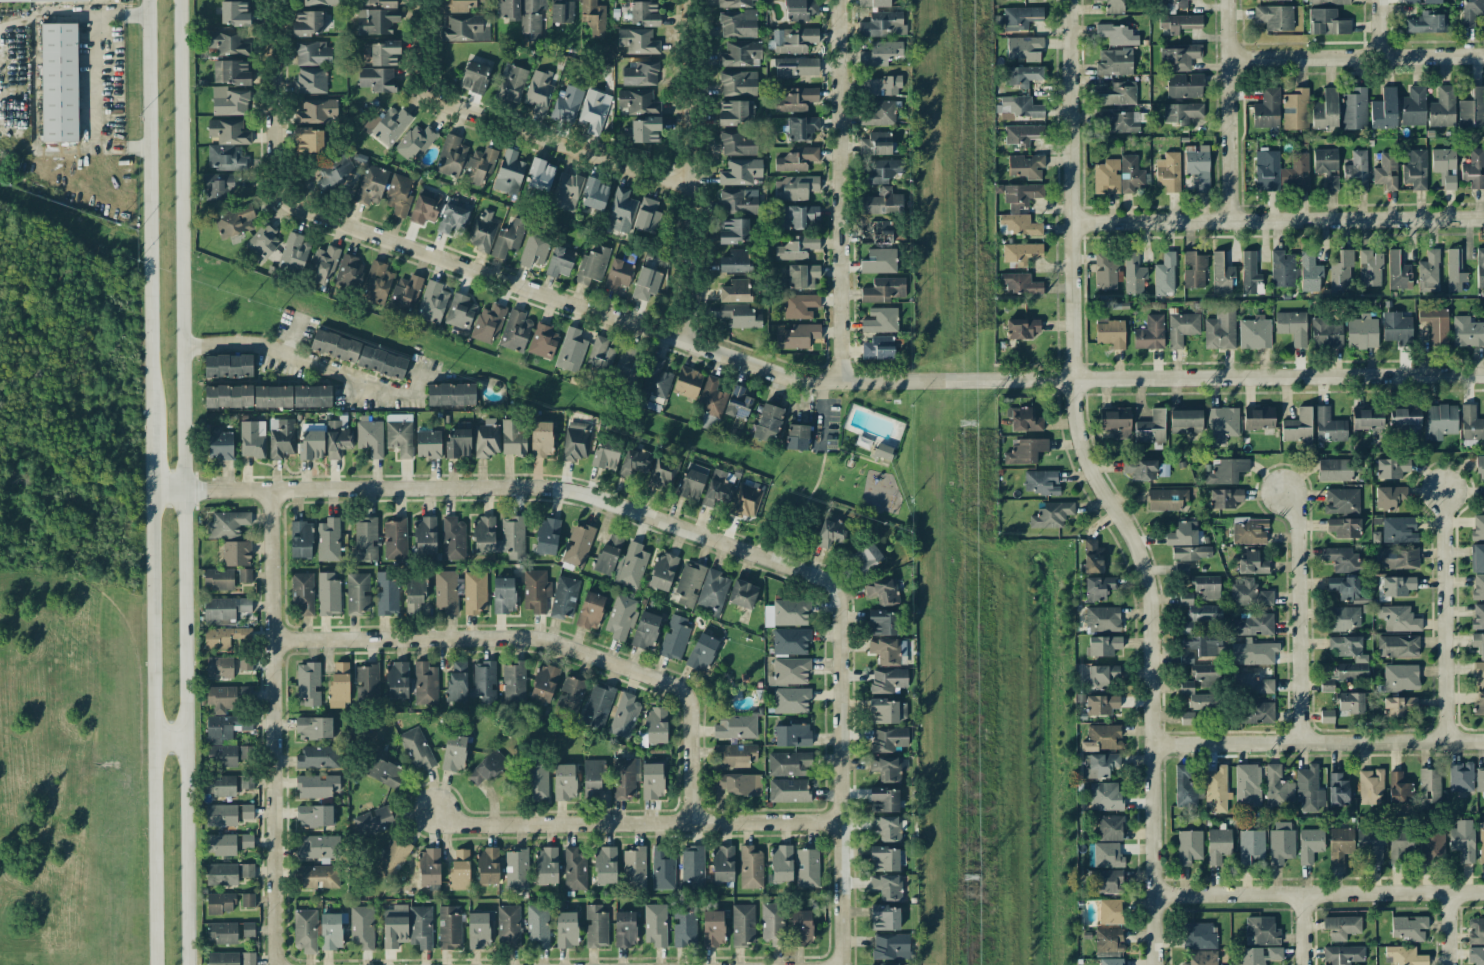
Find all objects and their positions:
building: (37, 0)
building: (1263, 0)
building: (1423, 1)
building: (320, 2)
building: (1328, 2)
building: (381, 3)
building: (733, 3)
building: (873, 3)
building: (1173, 4)
building: (457, 5)
building: (1113, 6)
building: (508, 9)
building: (800, 10)
building: (561, 11)
building: (1471, 11)
building: (234, 13)
building: (644, 13)
building: (531, 17)
building: (594, 17)
building: (1020, 17)
building: (1274, 17)
building: (376, 21)
building: (1180, 22)
building: (1327, 22)
building: (307, 23)
building: (737, 23)
building: (1426, 23)
building: (882, 25)
building: (465, 28)
road: (1380, 28)
building: (1117, 34)
building: (793, 39)
building: (636, 41)
building: (227, 42)
road: (422, 46)
building: (1025, 48)
building: (384, 52)
building: (880, 53)
building: (312, 54)
building: (740, 54)
road: (1356, 56)
building: (1178, 57)
building: (1114, 62)
building: (796, 67)
building: (231, 72)
building: (639, 73)
building: (1021, 75)
building: (474, 77)
building: (376, 79)
road: (101, 80)
building: (310, 80)
building: (59, 82)
building: (511, 83)
building: (738, 83)
building: (1184, 85)
building: (879, 86)
building: (538, 93)
building: (1118, 94)
building: (795, 99)
building: (229, 101)
building: (568, 102)
building: (637, 102)
road: (273, 103)
building: (1413, 106)
building: (1018, 107)
building: (1442, 107)
building: (1267, 108)
building: (1294, 109)
building: (1354, 109)
building: (1384, 109)
building: (1472, 109)
road: (1230, 110)
building: (1325, 110)
building: (316, 111)
building: (594, 111)
building: (735, 112)
building: (1181, 112)
building: (876, 113)
building: (1123, 122)
building: (389, 125)
building: (801, 127)
building: (643, 130)
building: (1022, 134)
building: (309, 140)
road: (556, 140)
building: (415, 141)
building: (738, 143)
building: (227, 144)
building: (875, 144)
building: (450, 156)
building: (796, 159)
building: (478, 165)
building: (1198, 165)
building: (1026, 166)
building: (1326, 166)
building: (1444, 167)
building: (1415, 169)
building: (1474, 169)
building: (1356, 170)
building: (334, 171)
road: (687, 171)
building: (740, 171)
building: (882, 171)
building: (1281, 171)
building: (1386, 171)
building: (509, 172)
building: (1168, 172)
building: (1130, 174)
building: (540, 175)
building: (1106, 177)
building: (370, 185)
building: (217, 186)
building: (794, 187)
road: (839, 189)
road: (1074, 189)
building: (566, 191)
building: (595, 194)
building: (398, 195)
building: (738, 201)
building: (881, 202)
building: (425, 206)
building: (1013, 210)
building: (620, 211)
road: (148, 212)
building: (647, 215)
building: (797, 216)
building: (452, 217)
road: (1279, 219)
building: (234, 220)
building: (733, 231)
road: (164, 233)
building: (481, 233)
building: (876, 233)
building: (507, 239)
building: (262, 241)
building: (796, 248)
building: (533, 250)
building: (294, 252)
building: (1020, 253)
building: (735, 261)
building: (879, 261)
building: (559, 262)
building: (321, 265)
building: (593, 266)
building: (1370, 267)
building: (1480, 267)
building: (1282, 268)
building: (1193, 270)
building: (1454, 270)
building: (349, 271)
building: (1106, 271)
building: (1341, 271)
building: (1398, 271)
building: (1310, 272)
building: (1428, 272)
building: (1221, 273)
building: (1250, 273)
building: (1133, 274)
building: (1164, 274)
building: (802, 275)
building: (376, 282)
building: (645, 283)
building: (1020, 283)
building: (883, 290)
building: (736, 291)
building: (405, 293)
building: (432, 302)
building: (799, 306)
building: (460, 311)
building: (739, 315)
building: (880, 320)
building: (488, 323)
building: (1435, 324)
building: (1292, 326)
building: (1396, 327)
building: (1022, 328)
building: (1181, 328)
building: (1220, 329)
building: (515, 330)
building: (1110, 332)
building: (1362, 332)
building: (1467, 332)
building: (1150, 333)
building: (1254, 333)
building: (1327, 333)
building: (798, 336)
road: (672, 337)
building: (542, 341)
building: (335, 345)
building: (878, 348)
building: (570, 350)
building: (600, 352)
road: (295, 359)
building: (381, 362)
building: (228, 365)
building: (627, 369)
road: (1279, 377)
building: (656, 378)
building: (687, 382)
road: (411, 383)
building: (450, 394)
building: (228, 396)
building: (272, 396)
building: (311, 396)
building: (711, 397)
building: (738, 403)
road: (821, 414)
building: (1258, 418)
building: (1405, 418)
building: (1368, 419)
building: (1025, 420)
building: (1185, 420)
building: (1441, 421)
building: (1115, 422)
building: (767, 423)
power tower: (965, 423)
building: (1222, 423)
building: (1471, 423)
parking lot: (826, 424)
building: (1329, 426)
building: (1151, 428)
building: (1298, 428)
building: (399, 433)
building: (370, 436)
building: (796, 437)
building: (252, 438)
building: (281, 438)
building: (486, 438)
building: (512, 438)
building: (336, 439)
building: (541, 439)
building: (311, 441)
building: (575, 441)
building: (219, 443)
building: (428, 443)
building: (458, 443)
building: (1025, 450)
building: (882, 451)
building: (605, 454)
road: (853, 455)
road: (150, 457)
building: (638, 460)
building: (1391, 467)
building: (1480, 467)
building: (1140, 469)
building: (1223, 470)
building: (1335, 470)
building: (661, 474)
building: (691, 481)
road: (181, 482)
building: (1041, 482)
road: (501, 486)
building: (1389, 497)
building: (1225, 498)
building: (1166, 499)
building: (1341, 500)
building: (746, 501)
road: (799, 509)
building: (1050, 514)
building: (227, 524)
building: (1344, 527)
building: (1477, 527)
building: (512, 528)
building: (1399, 529)
building: (1249, 530)
building: (829, 531)
building: (1183, 534)
building: (425, 535)
building: (546, 536)
building: (395, 538)
building: (300, 539)
building: (328, 539)
building: (453, 539)
building: (364, 540)
building: (577, 545)
building: (1190, 552)
building: (236, 553)
building: (608, 553)
building: (1092, 557)
building: (1398, 557)
building: (865, 558)
building: (1478, 558)
building: (1343, 559)
building: (1253, 563)
building: (630, 565)
building: (1181, 569)
building: (662, 571)
building: (244, 575)
building: (218, 578)
building: (689, 583)
building: (1397, 585)
building: (1207, 586)
building: (1478, 586)
building: (1344, 587)
building: (1098, 588)
building: (445, 591)
building: (535, 591)
building: (713, 591)
building: (882, 591)
building: (474, 592)
building: (357, 593)
building: (387, 593)
building: (302, 594)
building: (327, 594)
building: (742, 594)
building: (1249, 594)
building: (414, 595)
building: (503, 595)
building: (564, 597)
building: (1185, 598)
building: (224, 610)
building: (590, 610)
building: (790, 612)
building: (1478, 615)
road: (1299, 616)
building: (620, 617)
building: (1199, 617)
road: (1444, 617)
building: (1344, 618)
building: (1398, 618)
building: (1102, 619)
building: (882, 622)
building: (1253, 624)
building: (646, 630)
building: (226, 637)
road: (551, 638)
building: (674, 638)
building: (790, 641)
building: (1478, 643)
building: (1102, 645)
building: (1398, 646)
building: (1198, 647)
building: (1348, 647)
building: (885, 651)
building: (701, 652)
building: (1254, 652)
road: (1152, 663)
building: (244, 664)
building: (219, 667)
building: (789, 672)
building: (1478, 673)
building: (1103, 674)
building: (1204, 674)
building: (1344, 674)
building: (1400, 677)
building: (397, 680)
building: (457, 680)
building: (514, 680)
building: (887, 680)
building: (368, 682)
building: (483, 682)
building: (308, 683)
building: (425, 683)
building: (544, 683)
building: (339, 684)
building: (1251, 684)
building: (244, 691)
building: (569, 696)
building: (1197, 697)
building: (221, 698)
building: (790, 700)
building: (1350, 703)
building: (1478, 704)
building: (597, 705)
building: (1102, 705)
building: (1400, 706)
building: (888, 711)
building: (1256, 712)
building: (624, 715)
building: (1327, 716)
building: (1186, 718)
building: (655, 725)
building: (735, 726)
road: (151, 727)
building: (225, 727)
road: (274, 727)
building: (314, 727)
building: (792, 735)
building: (888, 738)
building: (1102, 738)
road: (1319, 742)
building: (416, 749)
building: (453, 752)
building: (221, 755)
building: (734, 755)
building: (317, 756)
building: (789, 763)
building: (1099, 765)
building: (886, 767)
building: (485, 768)
building: (383, 771)
road: (840, 774)
building: (591, 777)
building: (1460, 777)
building: (623, 778)
building: (1479, 779)
building: (652, 781)
building: (536, 782)
building: (564, 782)
building: (1430, 782)
building: (737, 783)
building: (220, 785)
building: (1187, 785)
building: (1247, 785)
building: (316, 786)
building: (1370, 786)
building: (1278, 787)
building: (1398, 788)
building: (1216, 789)
building: (1309, 789)
building: (1338, 789)
building: (789, 790)
building: (1105, 796)
building: (884, 799)
building: (246, 811)
building: (220, 815)
building: (314, 816)
building: (373, 821)
road: (634, 821)
building: (886, 828)
building: (1110, 828)
building: (246, 840)
building: (1481, 841)
building: (1281, 842)
building: (1432, 842)
building: (1400, 843)
building: (1462, 843)
building: (220, 844)
building: (1340, 844)
building: (1370, 844)
building: (1218, 845)
building: (1310, 845)
building: (319, 846)
building: (1189, 846)
building: (1251, 846)
building: (1107, 855)
building: (392, 858)
building: (884, 858)
building: (781, 863)
building: (692, 864)
building: (722, 864)
building: (488, 865)
building: (605, 865)
building: (429, 866)
building: (546, 866)
building: (807, 866)
building: (663, 867)
building: (750, 867)
building: (575, 868)
building: (459, 869)
building: (516, 869)
building: (633, 869)
building: (246, 870)
building: (221, 874)
building: (318, 876)
power tower: (969, 880)
building: (1106, 880)
building: (887, 886)
road: (1319, 892)
building: (247, 900)
building: (220, 903)
building: (1110, 911)
building: (885, 917)
building: (771, 923)
building: (508, 924)
building: (655, 924)
building: (743, 924)
building: (595, 925)
building: (361, 926)
building: (394, 926)
building: (420, 926)
building: (537, 926)
building: (449, 927)
building: (801, 927)
building: (1341, 927)
building: (1409, 927)
building: (684, 928)
building: (713, 928)
road: (1449, 928)
building: (248, 929)
building: (479, 929)
building: (566, 929)
building: (624, 929)
road: (1302, 929)
building: (305, 930)
building: (331, 930)
building: (1475, 930)
building: (1261, 931)
building: (221, 933)
building: (1198, 936)
building: (1109, 940)
building: (891, 946)
building: (1343, 954)
building: (1260, 955)
building: (1476, 955)
building: (1403, 956)
building: (223, 958)
building: (248, 958)
building: (1201, 958)
building: (1112, 961)
building: (887, 964)

